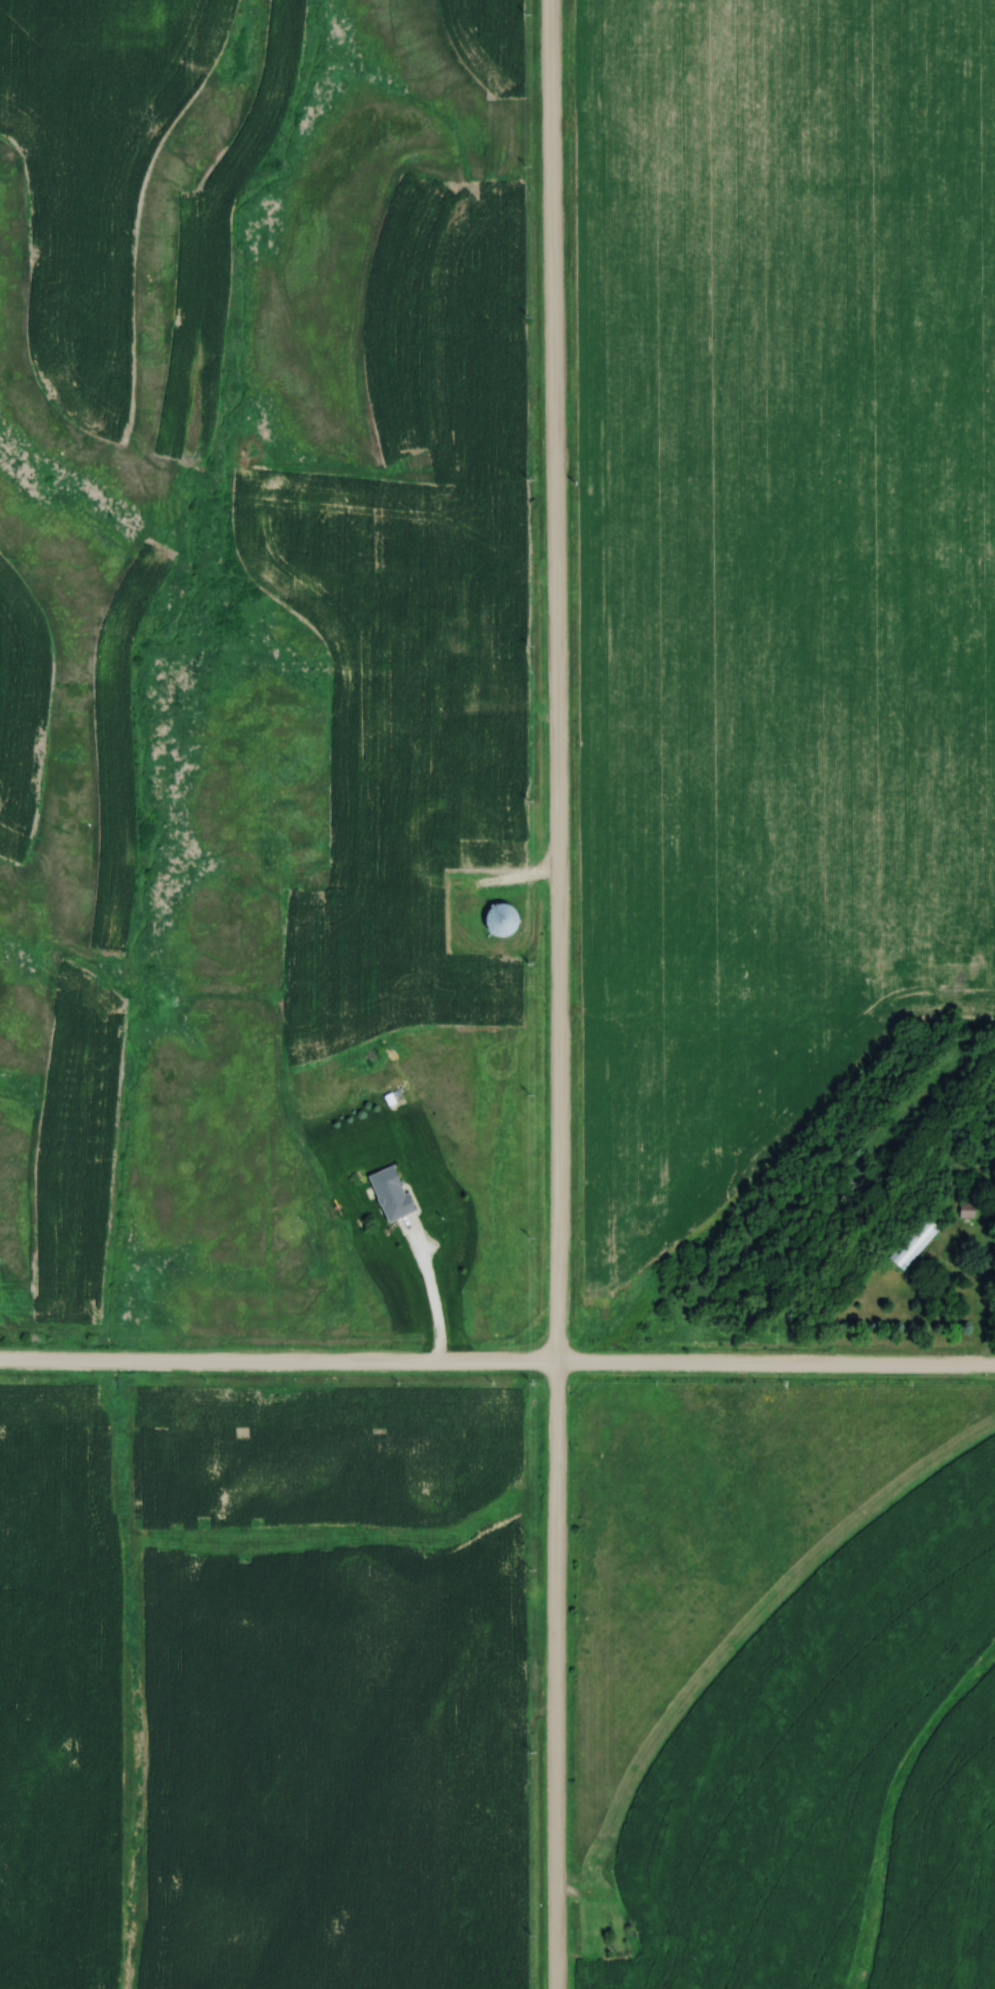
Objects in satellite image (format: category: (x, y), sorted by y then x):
building: (491, 555)
building: (500, 919)
road: (556, 994)
building: (390, 1193)
building: (966, 1209)
building: (912, 1242)
road: (982, 1298)
road: (497, 1365)

